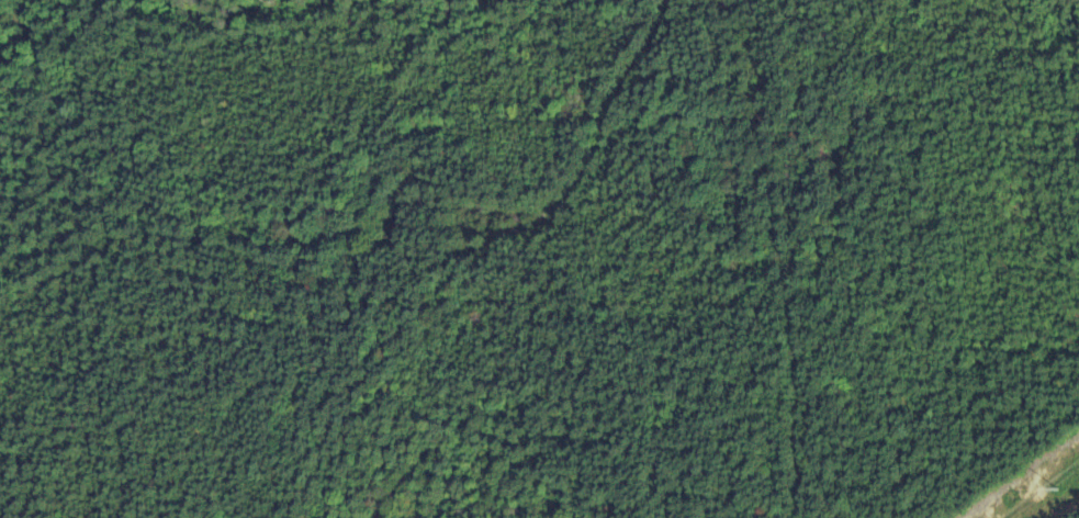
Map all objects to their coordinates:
power tower: (1059, 489)

